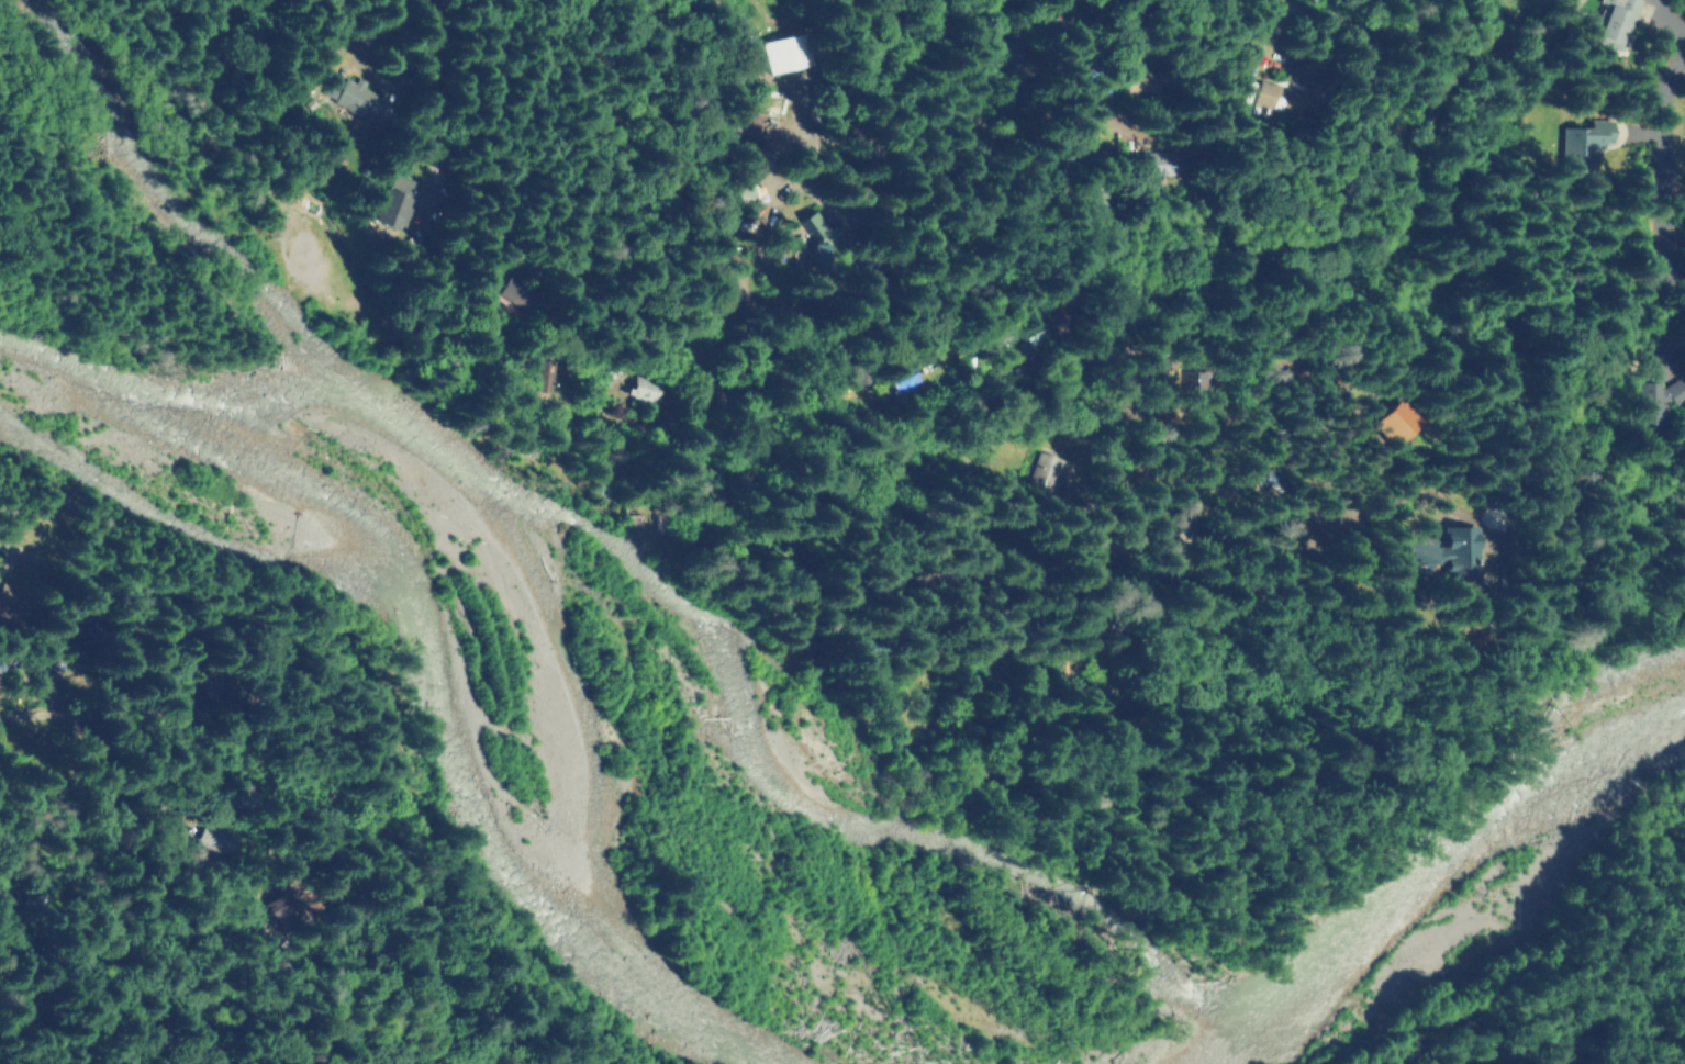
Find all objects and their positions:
building: (1614, 22)
road: (1035, 27)
road: (1361, 32)
road: (1481, 35)
road: (1057, 48)
building: (779, 54)
road: (436, 93)
building: (1277, 98)
building: (360, 101)
road: (1091, 124)
building: (1578, 145)
building: (1151, 164)
road: (1666, 173)
road: (1056, 184)
building: (394, 201)
building: (814, 229)
building: (808, 255)
road: (1031, 277)
road: (972, 284)
building: (513, 293)
road: (937, 320)
building: (1030, 335)
building: (903, 378)
building: (643, 388)
building: (1651, 402)
building: (1391, 423)
road: (737, 424)
road: (1101, 426)
building: (1039, 475)
building: (1435, 549)
road: (958, 570)
river: (496, 592)
building: (10, 596)
road: (183, 612)
building: (89, 630)
road: (968, 638)
road: (100, 671)
road: (223, 807)
building: (221, 839)
river: (1432, 874)
building: (280, 909)
road: (165, 1021)

